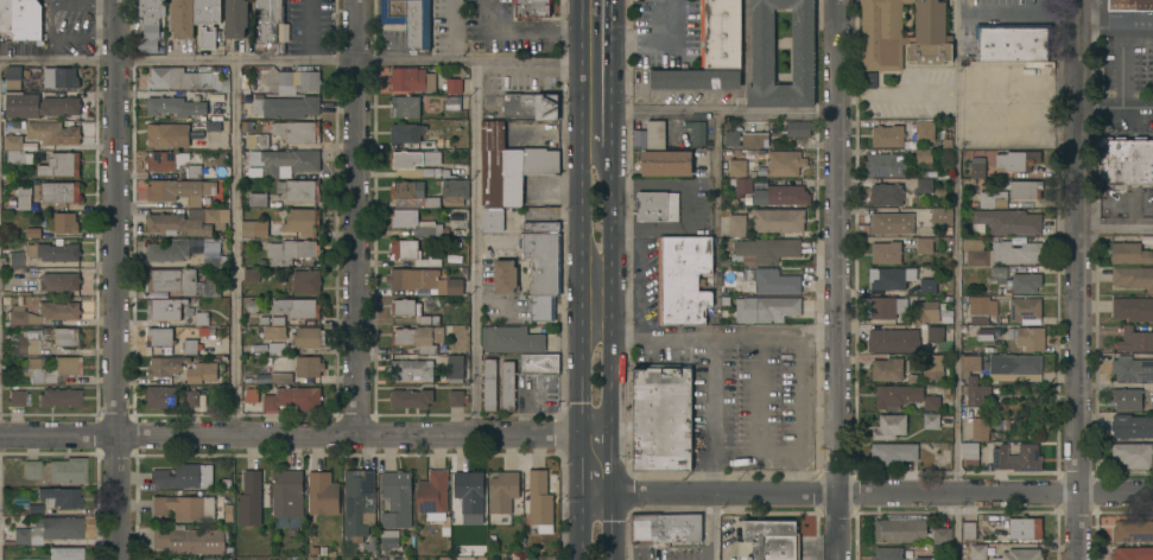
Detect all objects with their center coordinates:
building: (1130, 5)
building: (532, 9)
building: (208, 12)
building: (6, 15)
road: (1014, 15)
building: (182, 18)
building: (236, 18)
building: (410, 19)
building: (26, 20)
road: (1113, 21)
building: (267, 24)
road: (1152, 24)
building: (152, 25)
building: (47, 26)
road: (524, 27)
building: (721, 33)
building: (882, 36)
building: (1012, 42)
road: (651, 44)
building: (803, 46)
road: (297, 64)
road: (1121, 64)
road: (594, 71)
building: (14, 76)
building: (61, 77)
building: (188, 78)
building: (411, 78)
building: (696, 78)
building: (872, 79)
building: (298, 81)
building: (452, 84)
building: (452, 102)
building: (492, 102)
building: (406, 104)
building: (531, 104)
building: (40, 106)
building: (176, 106)
building: (286, 106)
road: (1114, 106)
road: (714, 112)
building: (798, 128)
building: (297, 131)
building: (52, 132)
building: (406, 132)
building: (696, 132)
building: (900, 132)
building: (167, 134)
building: (655, 134)
building: (731, 138)
building: (755, 139)
building: (256, 140)
building: (196, 144)
building: (15, 149)
building: (924, 154)
building: (166, 160)
building: (285, 160)
building: (1016, 160)
building: (1125, 160)
building: (666, 163)
building: (784, 163)
building: (417, 164)
building: (61, 165)
building: (509, 165)
building: (883, 165)
building: (736, 167)
building: (977, 170)
building: (195, 171)
building: (743, 184)
building: (760, 184)
building: (924, 185)
building: (299, 189)
building: (1025, 189)
building: (177, 190)
building: (61, 191)
building: (455, 191)
building: (413, 193)
building: (887, 193)
building: (787, 196)
building: (24, 197)
building: (760, 197)
building: (258, 199)
road: (579, 199)
building: (746, 199)
building: (990, 199)
road: (1120, 199)
road: (1136, 199)
road: (609, 201)
building: (657, 205)
road: (686, 206)
building: (942, 215)
road: (357, 216)
building: (492, 219)
building: (778, 219)
road: (1133, 219)
building: (188, 221)
building: (1007, 221)
building: (65, 222)
building: (414, 222)
building: (892, 223)
building: (285, 224)
building: (737, 224)
road: (1116, 227)
building: (924, 244)
road: (835, 246)
road: (474, 248)
road: (235, 249)
building: (765, 249)
building: (184, 250)
building: (1016, 250)
building: (53, 252)
building: (291, 252)
building: (886, 252)
building: (975, 252)
building: (413, 253)
building: (1129, 253)
building: (543, 255)
building: (14, 259)
building: (997, 272)
building: (252, 274)
building: (505, 275)
building: (1133, 276)
building: (683, 278)
building: (891, 278)
road: (1079, 279)
road: (116, 280)
road: (956, 280)
building: (306, 281)
building: (424, 281)
building: (775, 281)
building: (1025, 281)
building: (50, 282)
building: (927, 286)
building: (175, 289)
road: (593, 297)
building: (977, 304)
building: (405, 306)
building: (885, 306)
building: (297, 307)
building: (541, 307)
building: (993, 307)
building: (1133, 307)
building: (766, 308)
building: (59, 310)
building: (1025, 310)
building: (924, 311)
building: (20, 317)
building: (202, 318)
building: (429, 320)
building: (275, 329)
building: (935, 333)
building: (984, 333)
road: (714, 335)
road: (716, 336)
building: (65, 337)
building: (309, 337)
building: (419, 337)
building: (1028, 337)
building: (512, 338)
road: (587, 339)
building: (893, 339)
building: (1135, 339)
building: (172, 341)
road: (600, 341)
building: (26, 342)
building: (259, 348)
building: (277, 349)
building: (539, 362)
building: (1014, 364)
building: (165, 365)
building: (935, 365)
building: (308, 368)
building: (455, 368)
building: (411, 369)
building: (887, 369)
building: (1132, 369)
building: (202, 371)
building: (50, 373)
road: (608, 373)
road: (579, 374)
building: (281, 377)
building: (261, 378)
building: (973, 380)
building: (489, 384)
building: (508, 386)
building: (252, 395)
building: (897, 395)
building: (160, 396)
building: (15, 397)
building: (58, 397)
building: (190, 397)
building: (411, 397)
building: (457, 397)
building: (1127, 397)
building: (293, 399)
building: (931, 402)
road: (758, 415)
road: (800, 415)
road: (602, 416)
road: (588, 418)
building: (661, 419)
building: (931, 421)
building: (1132, 425)
building: (889, 427)
building: (980, 428)
road: (297, 433)
road: (596, 439)
building: (970, 452)
building: (894, 453)
building: (1133, 453)
road: (596, 456)
building: (1018, 458)
building: (31, 470)
building: (65, 471)
building: (177, 476)
road: (596, 479)
building: (469, 490)
building: (503, 491)
building: (287, 492)
building: (322, 492)
road: (716, 492)
road: (995, 492)
building: (59, 497)
building: (435, 497)
building: (251, 498)
building: (397, 498)
building: (539, 501)
building: (360, 505)
building: (184, 507)
road: (582, 524)
road: (612, 524)
road: (837, 526)
building: (665, 527)
building: (58, 528)
building: (1025, 528)
building: (908, 529)
building: (969, 529)
building: (1133, 530)
building: (20, 536)
building: (189, 540)
building: (769, 540)
building: (388, 542)
building: (974, 551)
building: (64, 553)
building: (1133, 553)
building: (887, 554)
building: (1020, 554)
building: (925, 558)
building: (26, 559)
building: (27, 559)
building: (207, 559)

